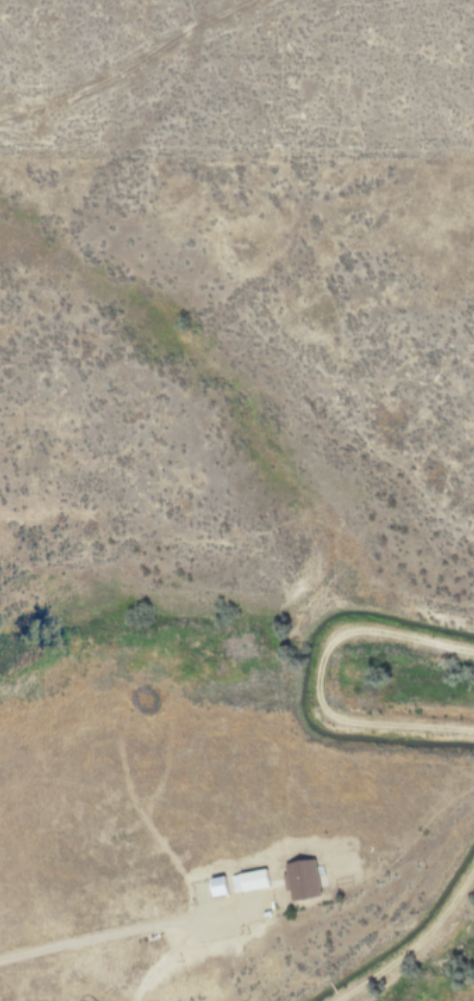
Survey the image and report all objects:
building: (251, 879)
building: (299, 879)
building: (215, 885)
road: (138, 930)

